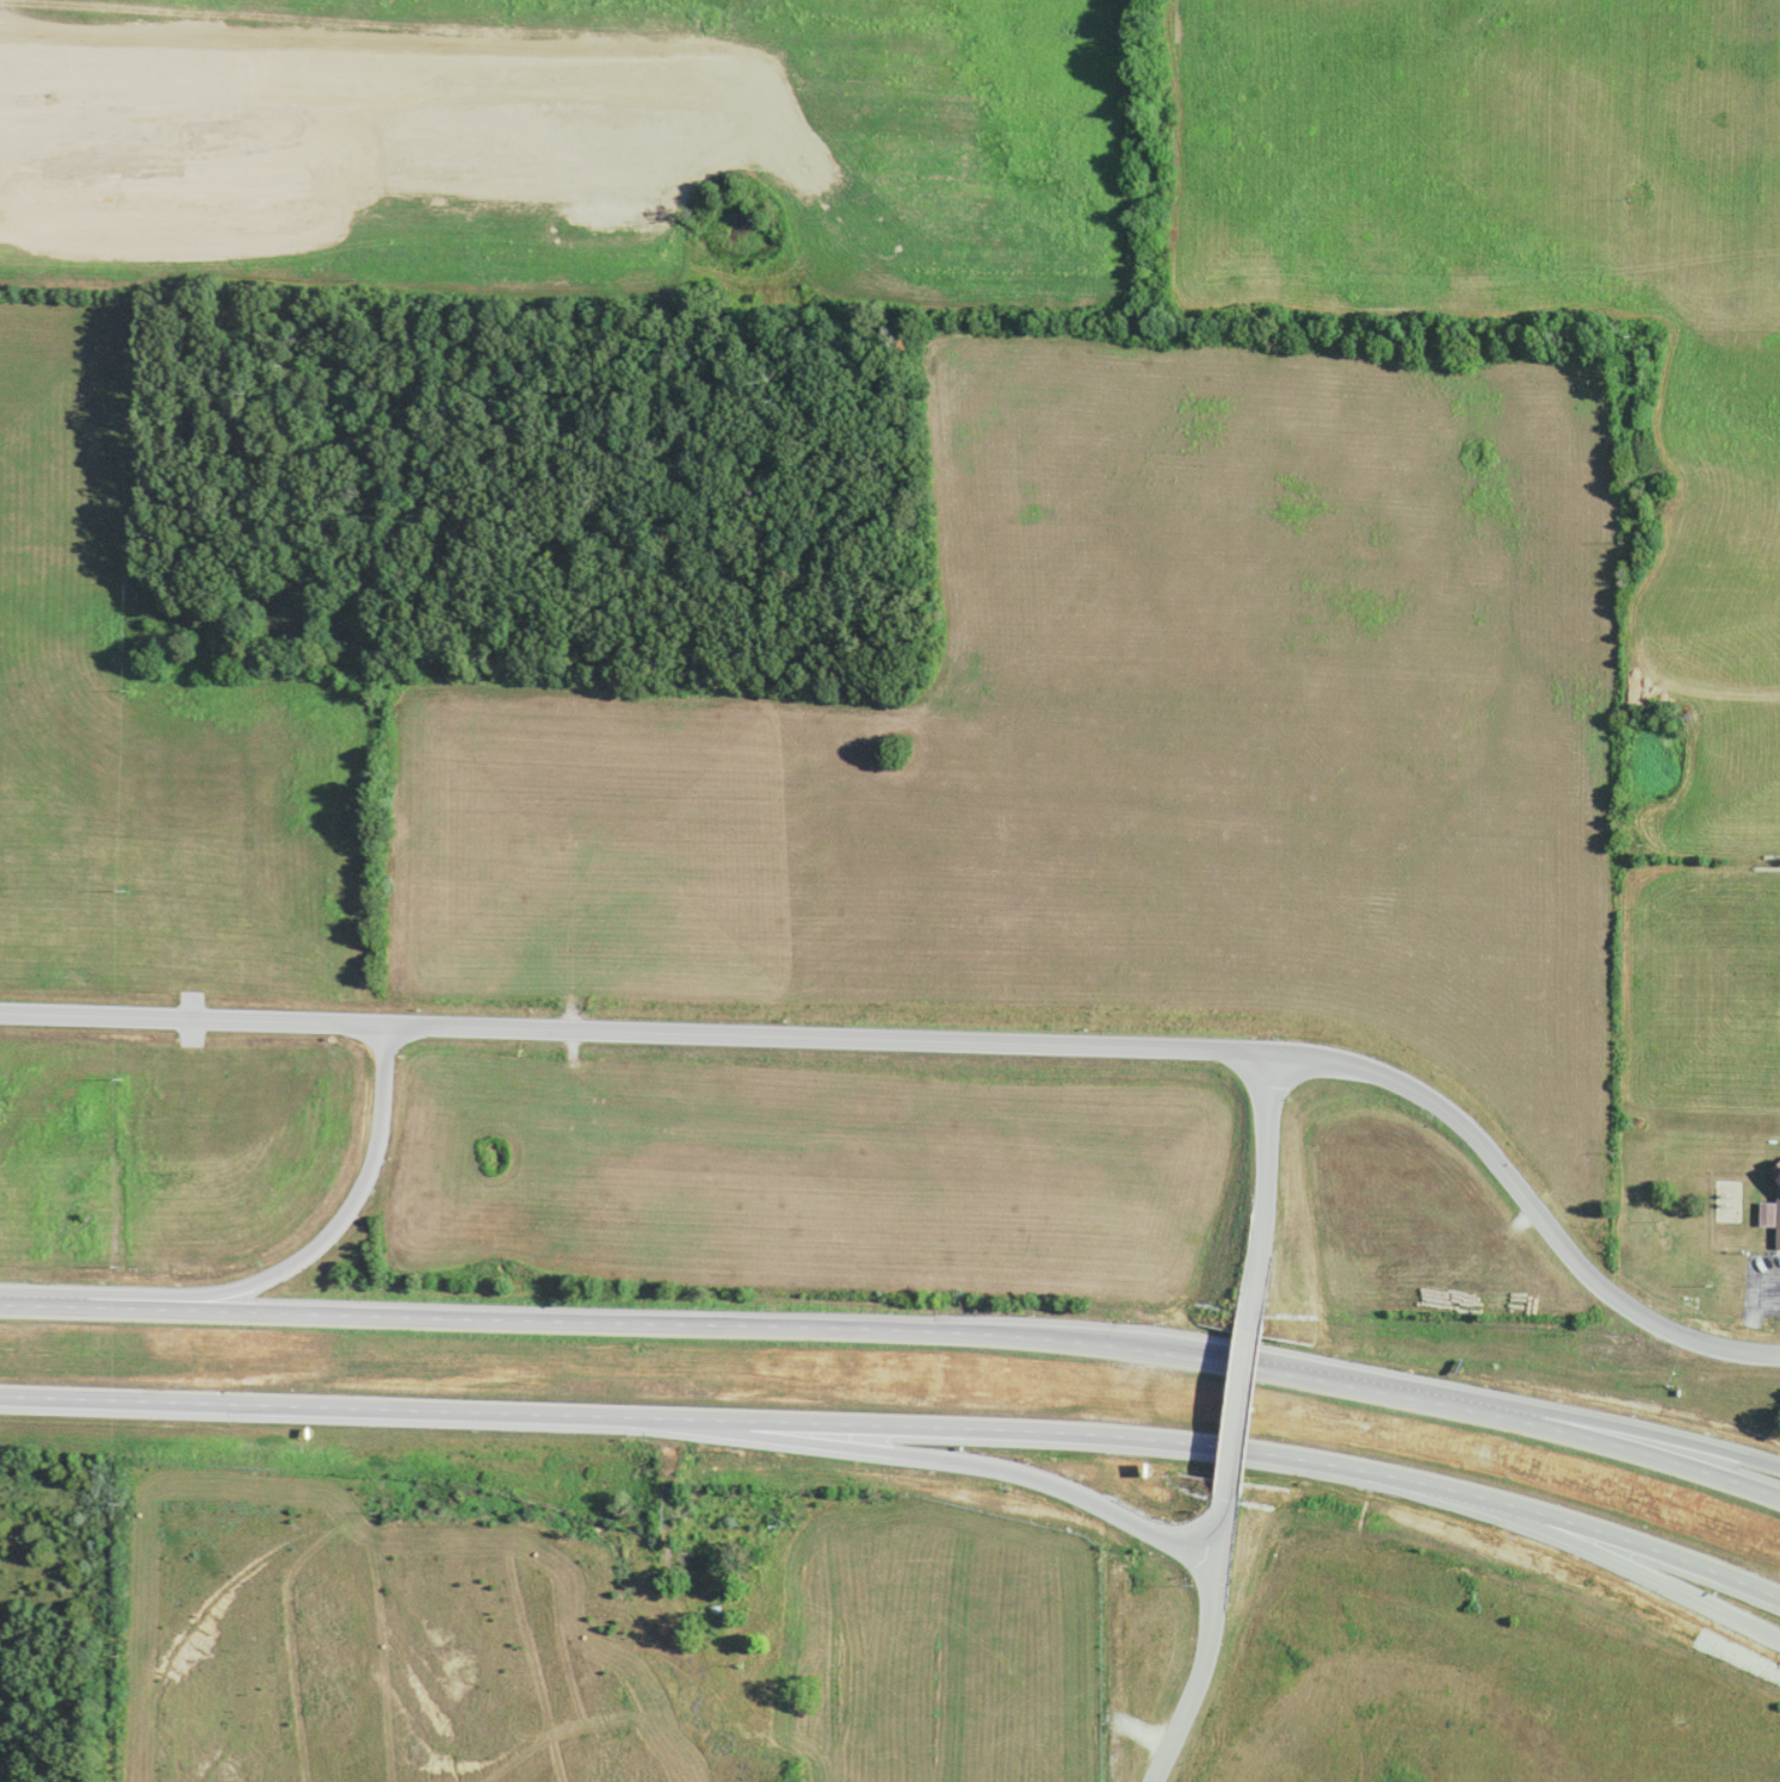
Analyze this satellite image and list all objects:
road: (190, 1015)
road: (815, 1034)
road: (1249, 1189)
road: (1512, 1205)
building: (1778, 1207)
road: (313, 1226)
road: (898, 1337)
road: (1234, 1406)
road: (901, 1425)
road: (1599, 1430)
road: (975, 1456)
road: (1226, 1499)
road: (1619, 1566)
road: (1193, 1652)

